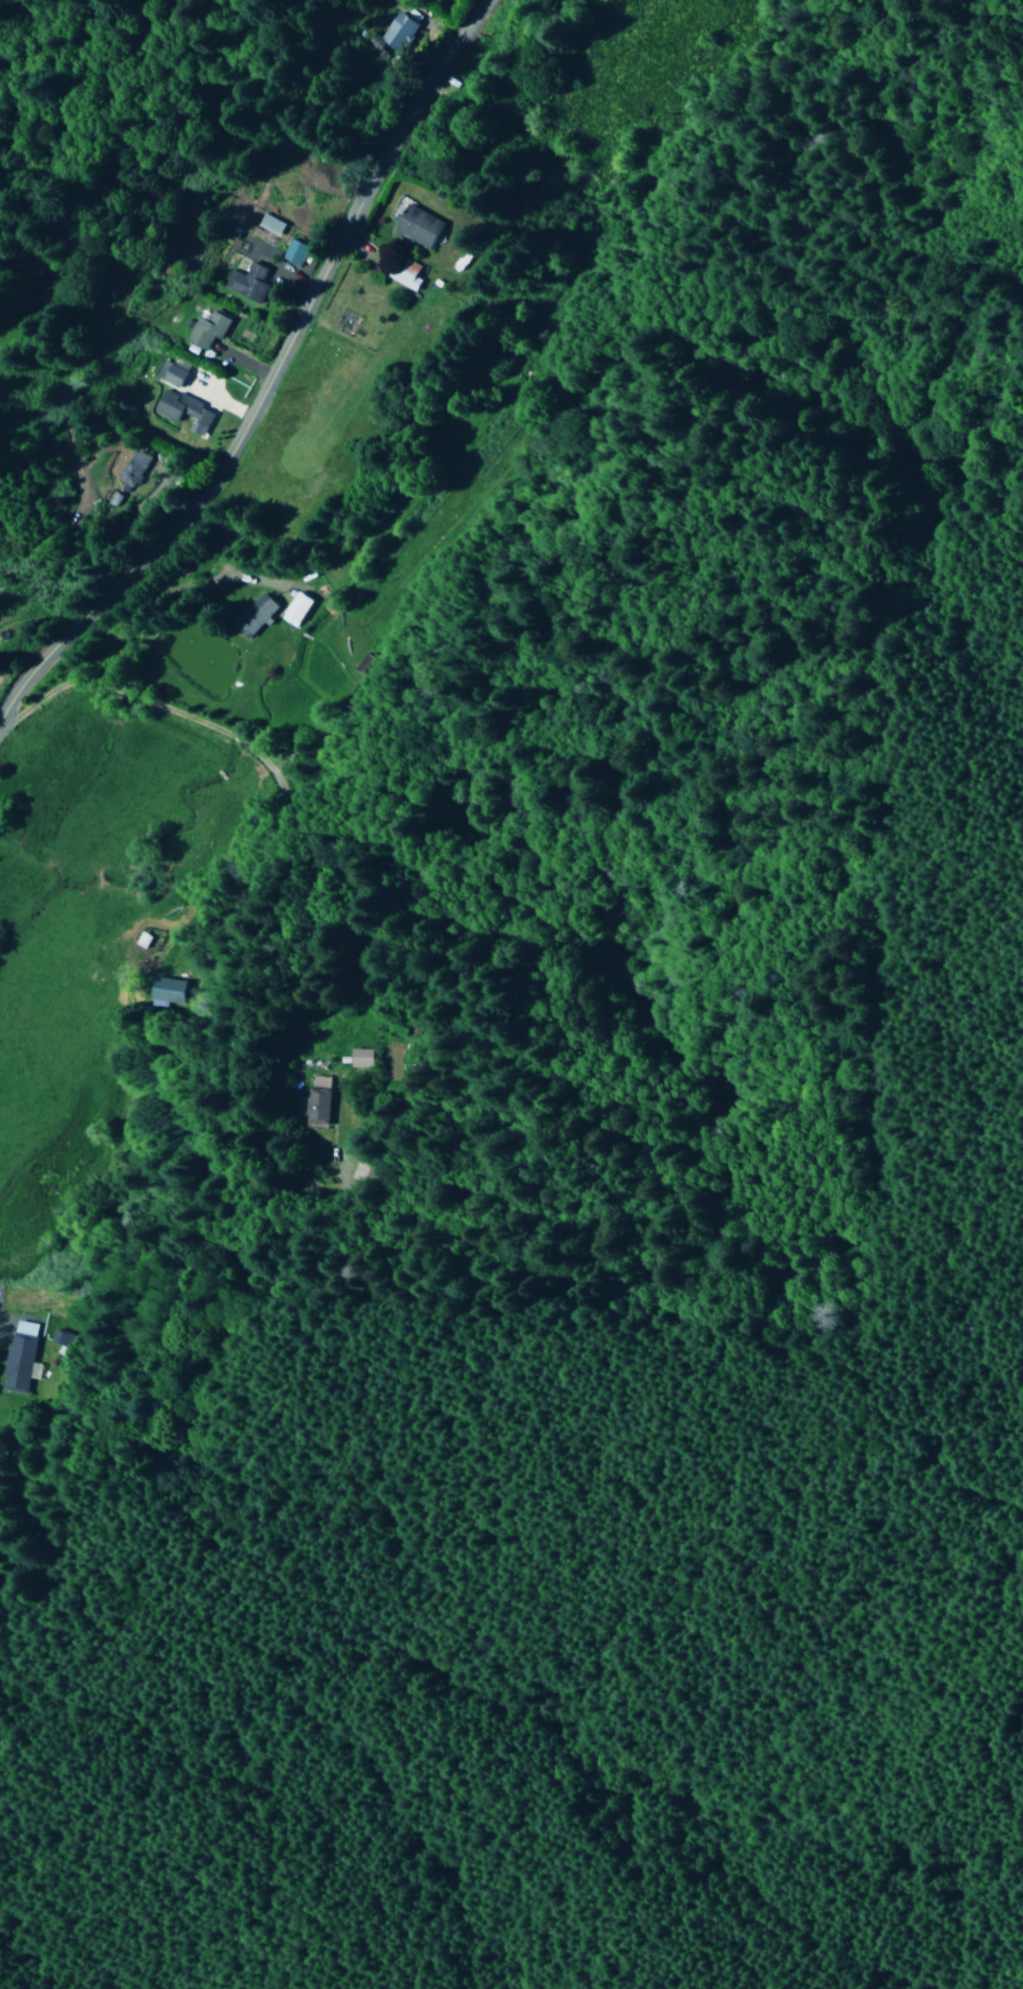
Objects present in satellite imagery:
building: (397, 32)
building: (416, 226)
building: (296, 252)
building: (399, 271)
building: (248, 282)
road: (299, 313)
building: (207, 329)
building: (170, 374)
building: (184, 411)
building: (132, 471)
road: (185, 585)
building: (298, 610)
building: (256, 615)
road: (38, 653)
road: (242, 745)
building: (140, 940)
building: (151, 993)
building: (360, 1058)
building: (318, 1100)
building: (18, 1357)

